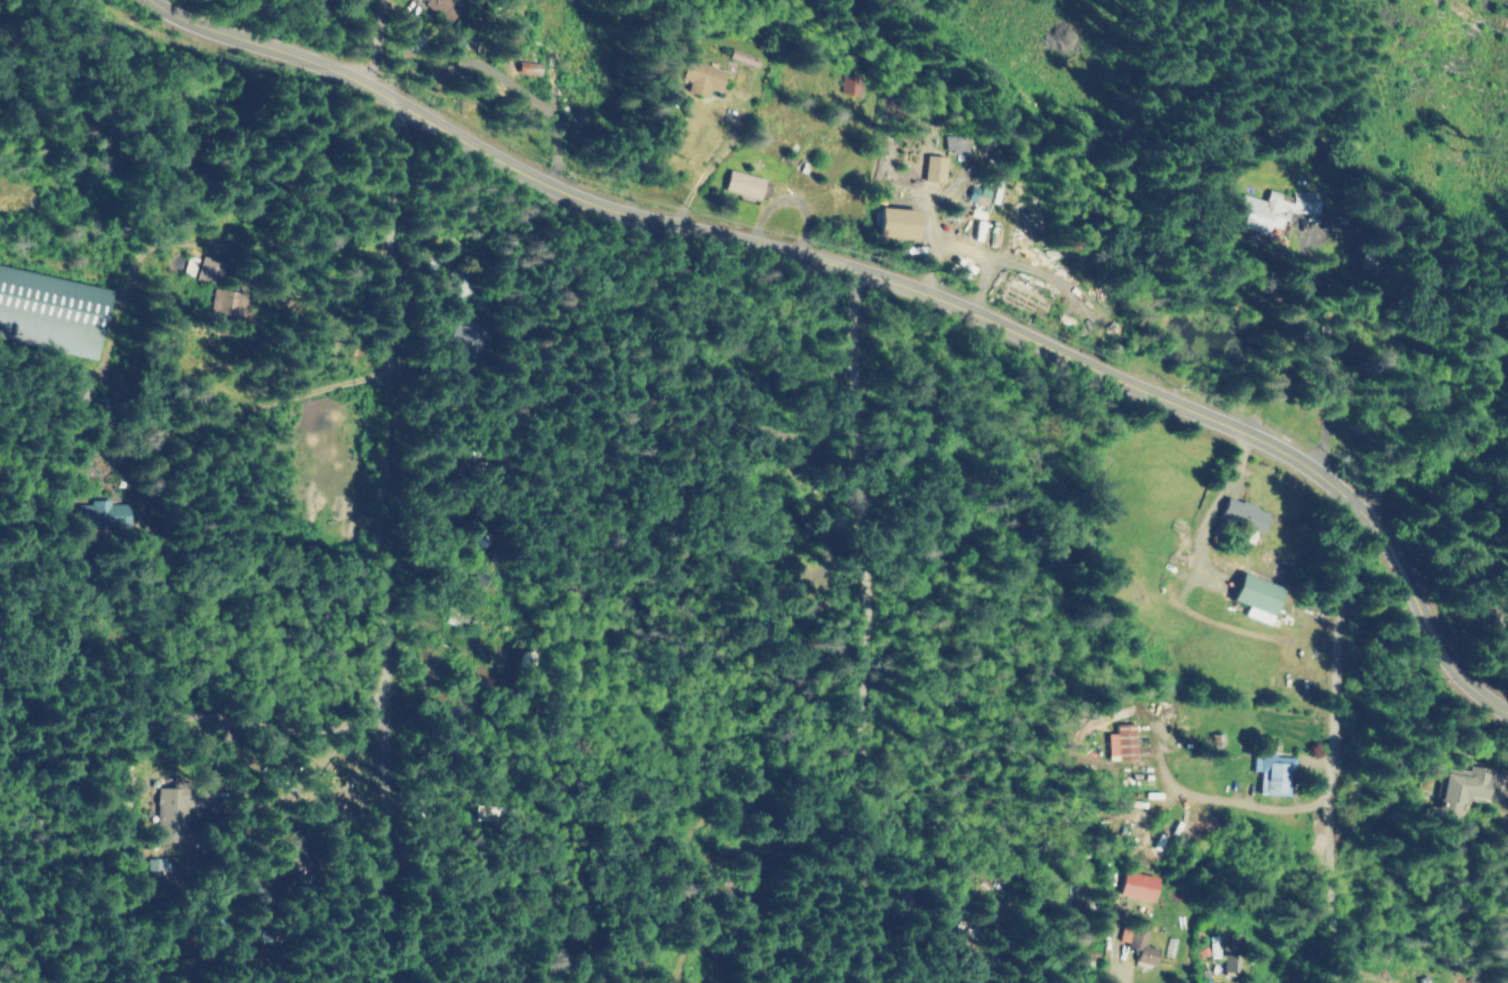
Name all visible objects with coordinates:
building: (448, 7)
road: (375, 42)
building: (534, 69)
building: (705, 78)
building: (854, 83)
building: (954, 143)
building: (931, 168)
building: (744, 184)
building: (976, 194)
building: (890, 222)
road: (964, 249)
building: (210, 269)
road: (931, 269)
road: (884, 280)
building: (233, 302)
building: (464, 339)
road: (1323, 361)
road: (152, 416)
building: (108, 514)
building: (1240, 514)
road: (381, 566)
building: (1252, 597)
road: (863, 625)
road: (162, 713)
road: (1332, 739)
building: (1119, 742)
building: (1270, 774)
building: (177, 808)
road: (147, 842)
building: (156, 864)
building: (1133, 885)
building: (261, 892)
building: (1139, 946)
building: (1233, 965)

